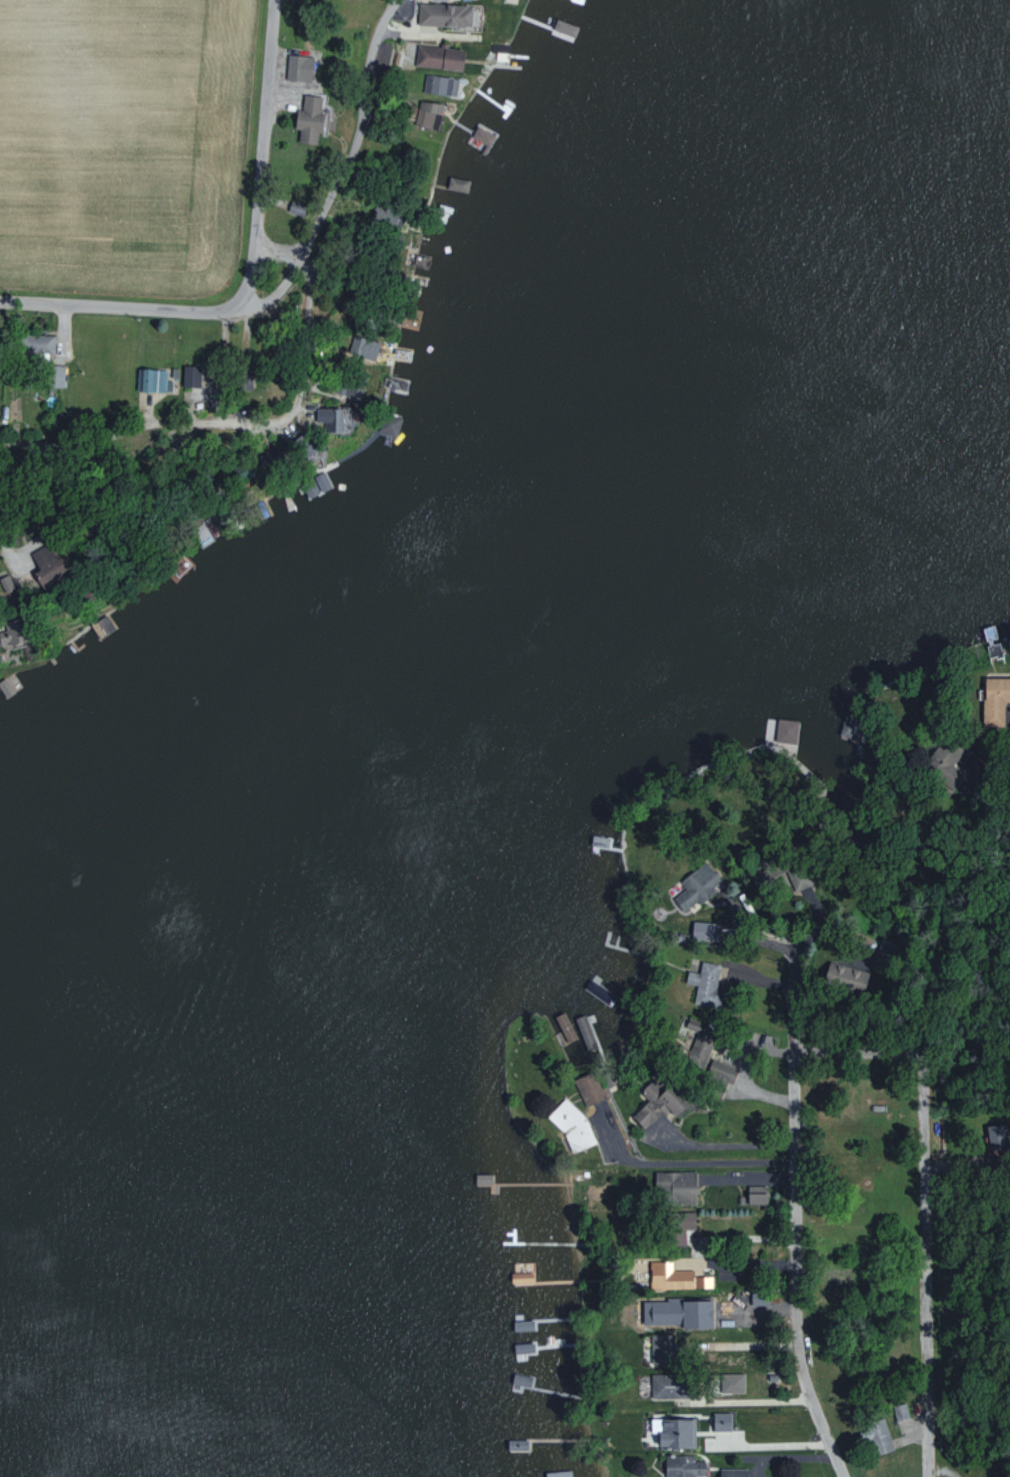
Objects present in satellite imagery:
building: (443, 15)
building: (438, 57)
building: (299, 65)
building: (439, 84)
building: (428, 113)
building: (308, 118)
building: (481, 135)
road: (260, 146)
road: (358, 162)
building: (295, 207)
building: (387, 213)
road: (285, 248)
road: (129, 305)
building: (35, 343)
building: (363, 346)
building: (55, 376)
building: (196, 377)
building: (152, 379)
building: (344, 387)
building: (333, 415)
building: (389, 424)
road: (188, 429)
road: (9, 554)
building: (44, 563)
building: (995, 700)
road: (1005, 723)
building: (785, 730)
river: (365, 736)
road: (983, 788)
building: (798, 878)
building: (695, 887)
building: (704, 930)
road: (790, 960)
building: (846, 977)
building: (704, 983)
road: (860, 1047)
building: (698, 1049)
building: (720, 1075)
building: (588, 1088)
building: (656, 1103)
building: (571, 1125)
building: (997, 1137)
road: (713, 1139)
road: (677, 1159)
building: (674, 1187)
building: (756, 1194)
building: (679, 1225)
road: (925, 1261)
road: (789, 1266)
building: (521, 1277)
building: (674, 1277)
building: (676, 1313)
building: (731, 1383)
building: (666, 1386)
road: (703, 1399)
building: (721, 1421)
building: (674, 1432)
building: (876, 1436)
building: (683, 1466)
building: (732, 1472)

